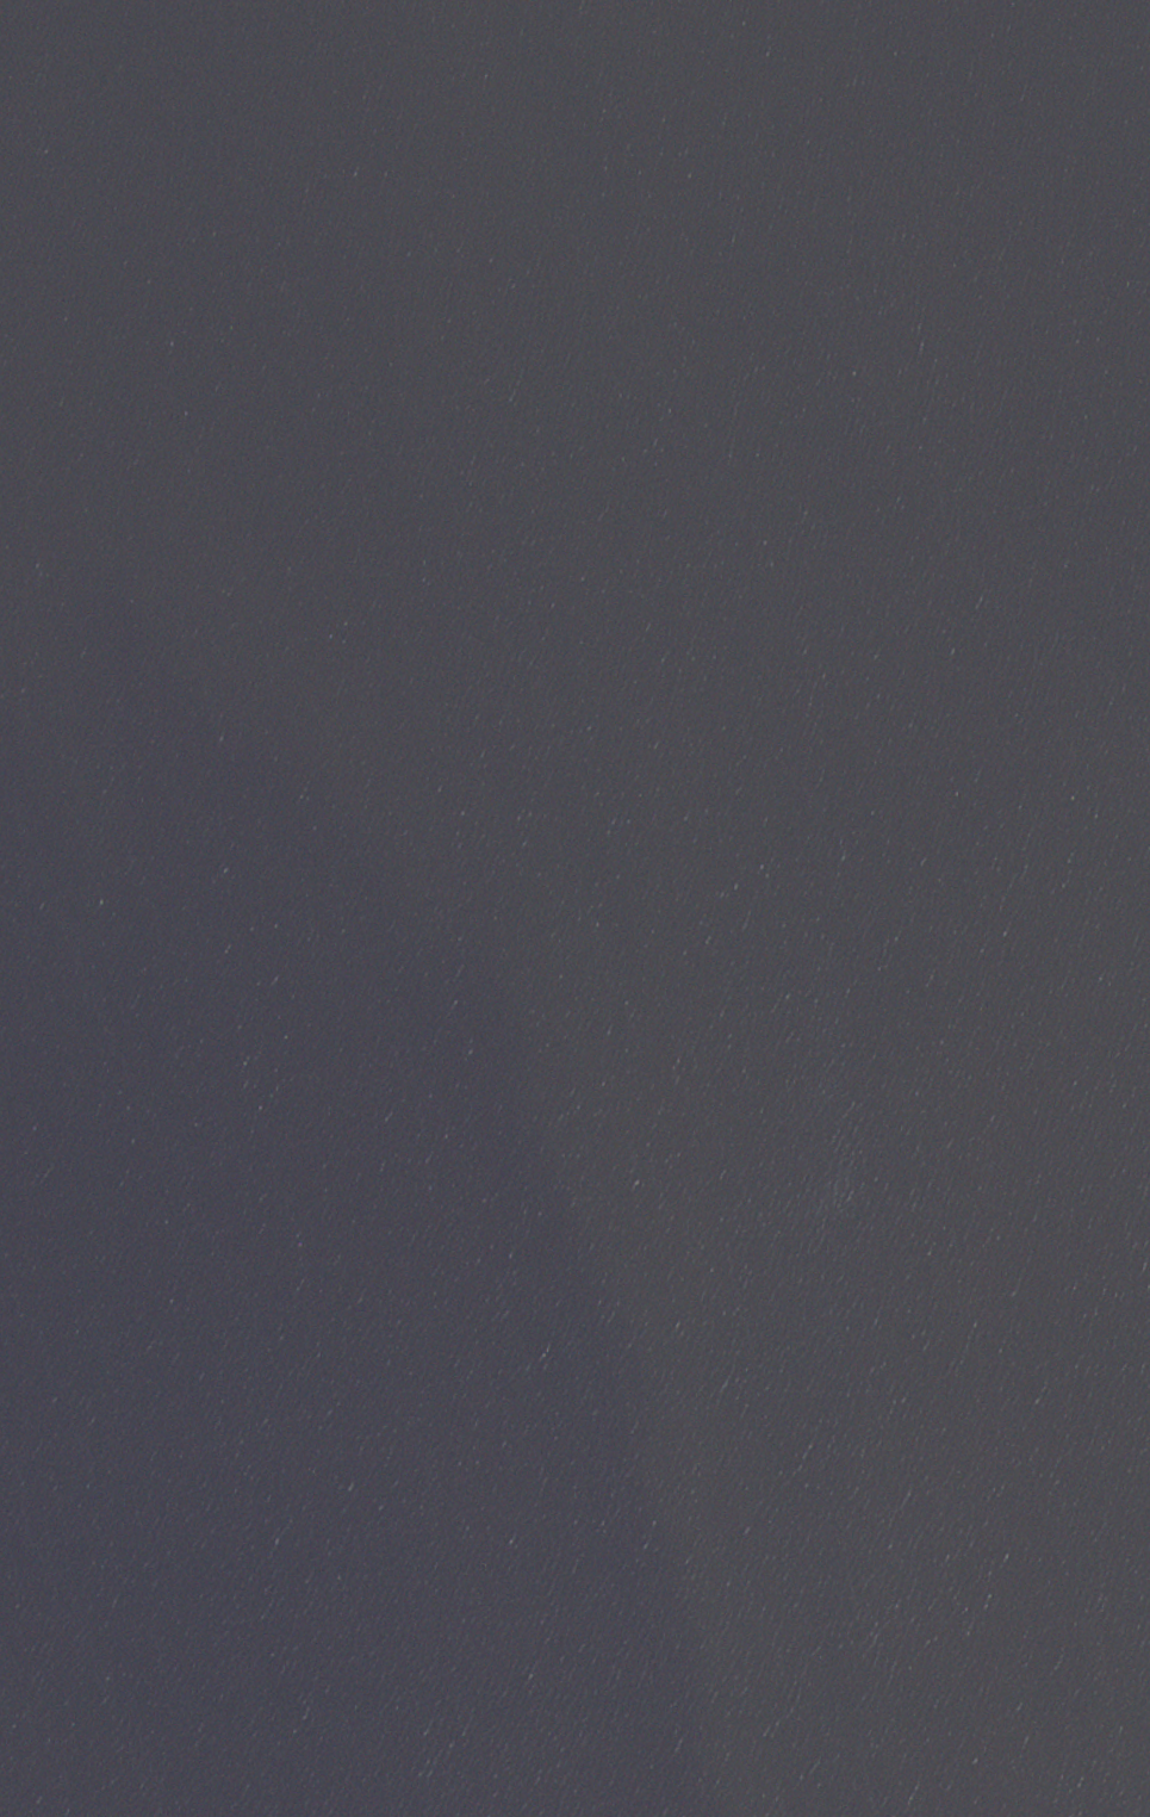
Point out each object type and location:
river: (52, 242)
river: (527, 670)
river: (1049, 1116)

